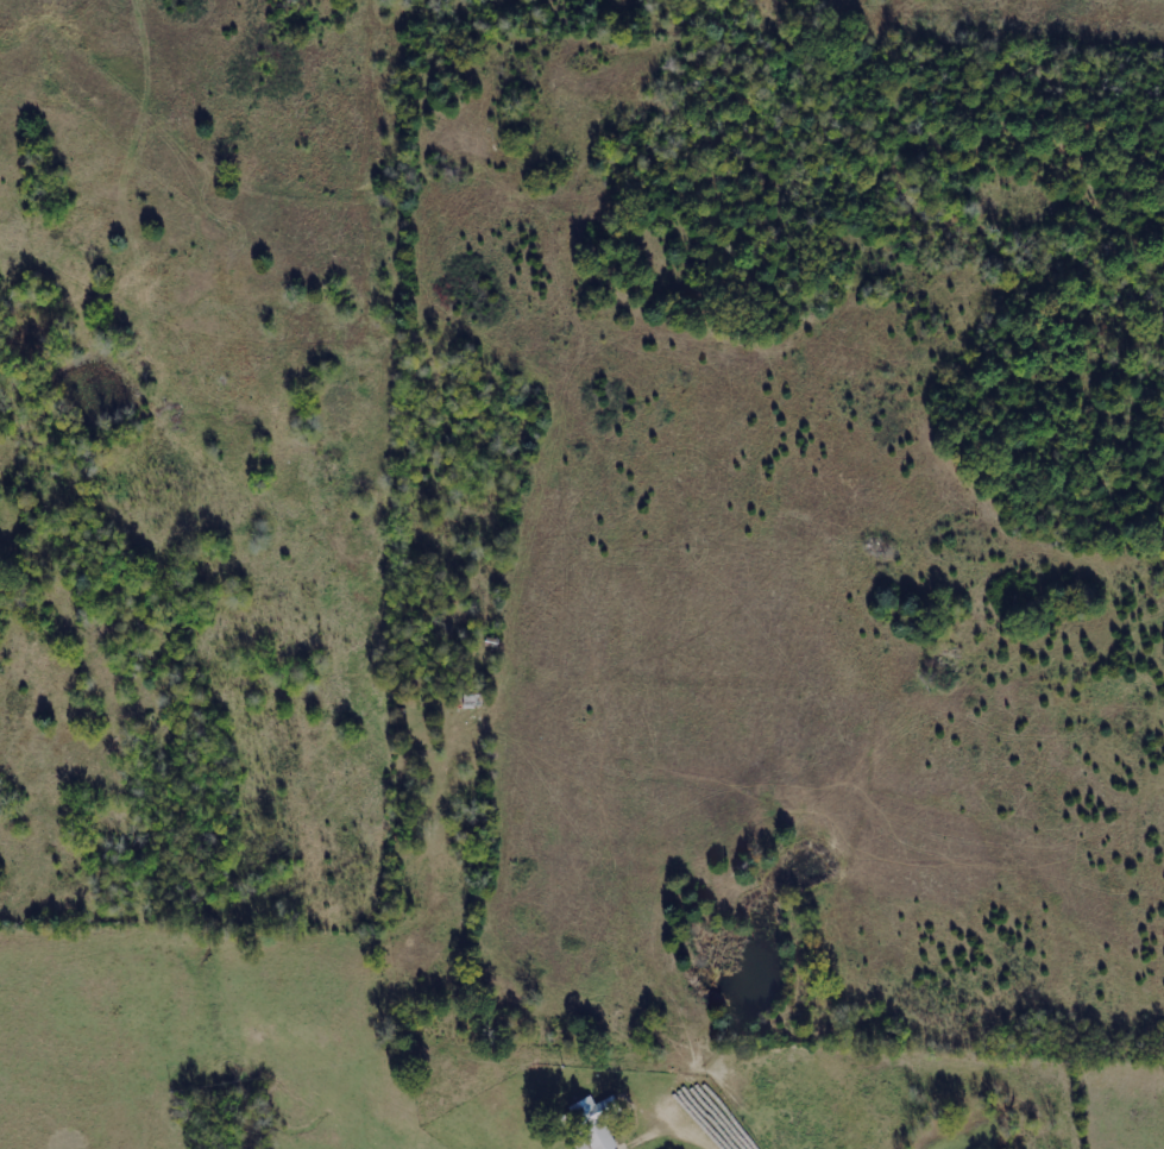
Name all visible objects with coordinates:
building: (594, 1123)

